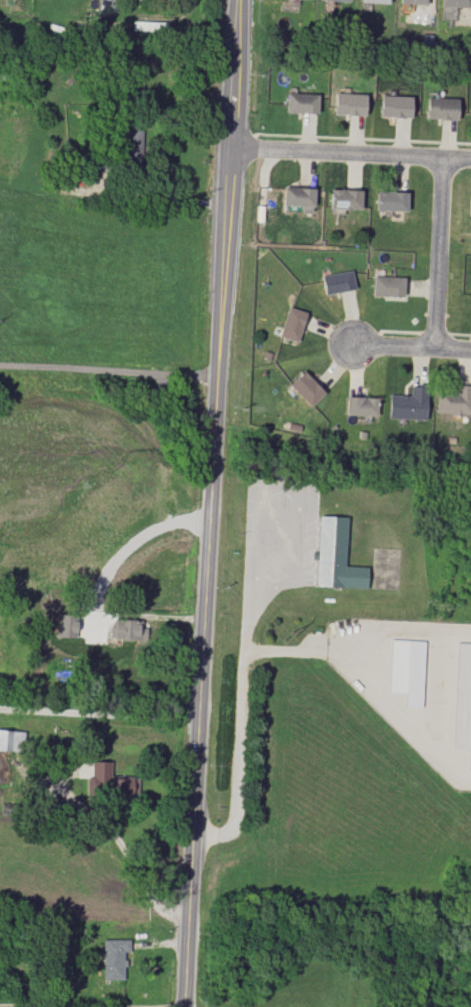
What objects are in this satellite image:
building: (337, 0)
building: (373, 0)
building: (411, 1)
building: (452, 3)
building: (150, 27)
road: (234, 37)
building: (299, 102)
building: (348, 104)
building: (393, 105)
building: (439, 108)
road: (230, 109)
building: (470, 109)
building: (132, 140)
road: (349, 153)
road: (227, 173)
road: (139, 195)
building: (295, 195)
building: (342, 197)
building: (388, 199)
building: (470, 207)
road: (439, 253)
building: (336, 281)
building: (386, 285)
building: (469, 301)
building: (289, 323)
road: (220, 330)
road: (411, 346)
road: (109, 370)
building: (304, 387)
building: (454, 399)
building: (407, 403)
building: (358, 405)
road: (291, 490)
crop: (90, 498)
parking lot: (278, 538)
building: (334, 555)
road: (104, 579)
building: (127, 630)
power tower: (293, 639)
road: (295, 651)
building: (406, 669)
parking lot: (412, 683)
building: (462, 699)
road: (100, 714)
road: (242, 730)
road: (200, 732)
building: (12, 740)
building: (114, 783)
road: (132, 861)
building: (114, 958)
road: (53, 1004)

